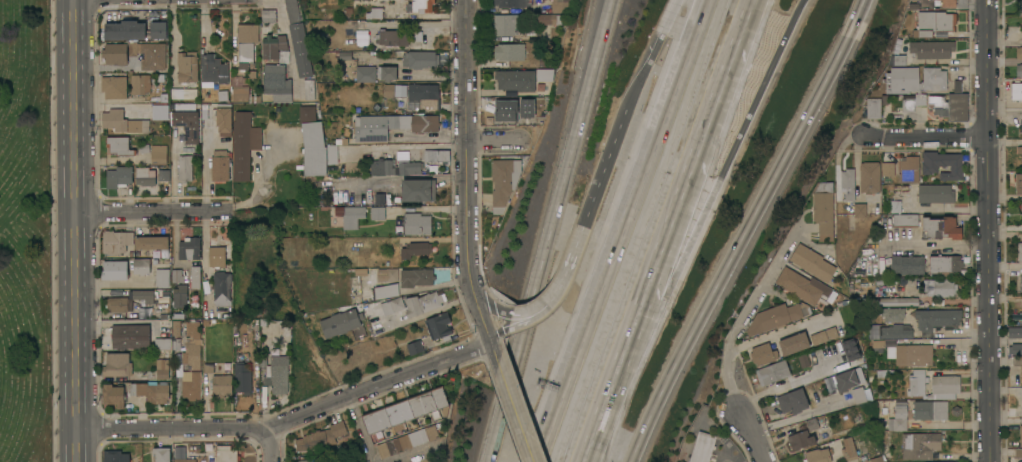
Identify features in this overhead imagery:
building: (512, 3)
building: (946, 3)
building: (422, 6)
building: (560, 6)
building: (1019, 6)
road: (862, 10)
building: (375, 13)
building: (268, 15)
building: (550, 19)
building: (935, 22)
building: (508, 24)
building: (138, 26)
building: (1021, 35)
building: (393, 37)
building: (298, 39)
building: (246, 43)
building: (275, 48)
building: (932, 49)
building: (509, 51)
building: (1018, 52)
building: (115, 53)
building: (150, 54)
road: (651, 54)
building: (420, 59)
building: (545, 61)
building: (187, 66)
building: (213, 69)
building: (1018, 70)
building: (387, 72)
building: (366, 73)
building: (545, 75)
building: (914, 79)
building: (516, 80)
building: (140, 83)
building: (277, 83)
building: (114, 87)
building: (309, 89)
building: (387, 89)
building: (1016, 91)
building: (184, 93)
building: (421, 94)
building: (243, 95)
building: (939, 104)
building: (526, 107)
building: (873, 108)
building: (160, 112)
building: (508, 112)
building: (224, 119)
building: (123, 121)
road: (708, 121)
building: (425, 123)
building: (187, 124)
building: (1021, 126)
building: (371, 129)
road: (927, 137)
building: (313, 142)
road: (493, 142)
road: (1006, 142)
building: (244, 144)
building: (120, 145)
road: (467, 146)
building: (159, 154)
building: (330, 154)
building: (436, 155)
building: (1021, 158)
building: (943, 164)
building: (221, 165)
building: (394, 167)
building: (186, 168)
road: (603, 168)
building: (888, 169)
building: (909, 169)
building: (164, 172)
building: (119, 176)
building: (145, 176)
road: (563, 177)
building: (870, 177)
building: (504, 181)
building: (848, 183)
building: (1018, 183)
building: (419, 190)
building: (936, 193)
building: (1021, 207)
building: (824, 210)
building: (860, 210)
building: (378, 212)
road: (154, 213)
building: (350, 215)
building: (1021, 216)
building: (906, 220)
building: (417, 223)
road: (692, 227)
building: (942, 227)
road: (76, 230)
road: (990, 230)
road: (624, 231)
park: (25, 233)
road: (741, 240)
building: (116, 241)
building: (153, 243)
building: (189, 248)
building: (416, 249)
building: (1019, 251)
building: (219, 255)
building: (812, 262)
building: (904, 264)
building: (945, 264)
road: (568, 265)
building: (142, 266)
building: (858, 268)
building: (115, 269)
building: (387, 274)
building: (177, 275)
building: (196, 277)
building: (417, 277)
building: (163, 278)
building: (1021, 279)
building: (802, 285)
building: (940, 287)
building: (386, 291)
building: (148, 295)
building: (181, 296)
building: (219, 297)
building: (898, 301)
building: (423, 303)
building: (119, 304)
building: (393, 305)
road: (493, 305)
road: (533, 309)
building: (893, 314)
road: (482, 315)
road: (532, 317)
building: (774, 318)
building: (937, 319)
road: (115, 322)
building: (341, 323)
building: (440, 326)
building: (176, 328)
road: (498, 329)
building: (897, 331)
building: (1014, 332)
building: (131, 336)
road: (733, 337)
building: (819, 337)
building: (794, 343)
building: (163, 344)
building: (193, 346)
building: (415, 347)
road: (624, 348)
building: (849, 349)
building: (1015, 349)
road: (495, 350)
building: (826, 351)
building: (908, 352)
building: (763, 354)
building: (802, 360)
building: (117, 365)
building: (163, 366)
building: (774, 371)
building: (273, 372)
road: (960, 372)
building: (885, 373)
building: (1021, 375)
building: (243, 377)
building: (848, 379)
building: (798, 380)
building: (192, 384)
building: (222, 385)
building: (934, 385)
building: (152, 391)
building: (114, 395)
building: (859, 395)
building: (794, 401)
road: (503, 408)
building: (931, 410)
building: (407, 411)
road: (517, 412)
road: (798, 415)
building: (899, 416)
road: (290, 420)
building: (812, 423)
road: (361, 430)
building: (1020, 435)
building: (321, 437)
building: (801, 439)
building: (408, 440)
building: (920, 445)
road: (271, 446)
building: (887, 446)
building: (703, 447)
building: (849, 449)
building: (162, 454)
building: (227, 454)
road: (412, 455)
building: (818, 455)
building: (115, 456)
road: (580, 458)
building: (876, 459)
building: (186, 460)
building: (311, 460)
building: (135, 461)

